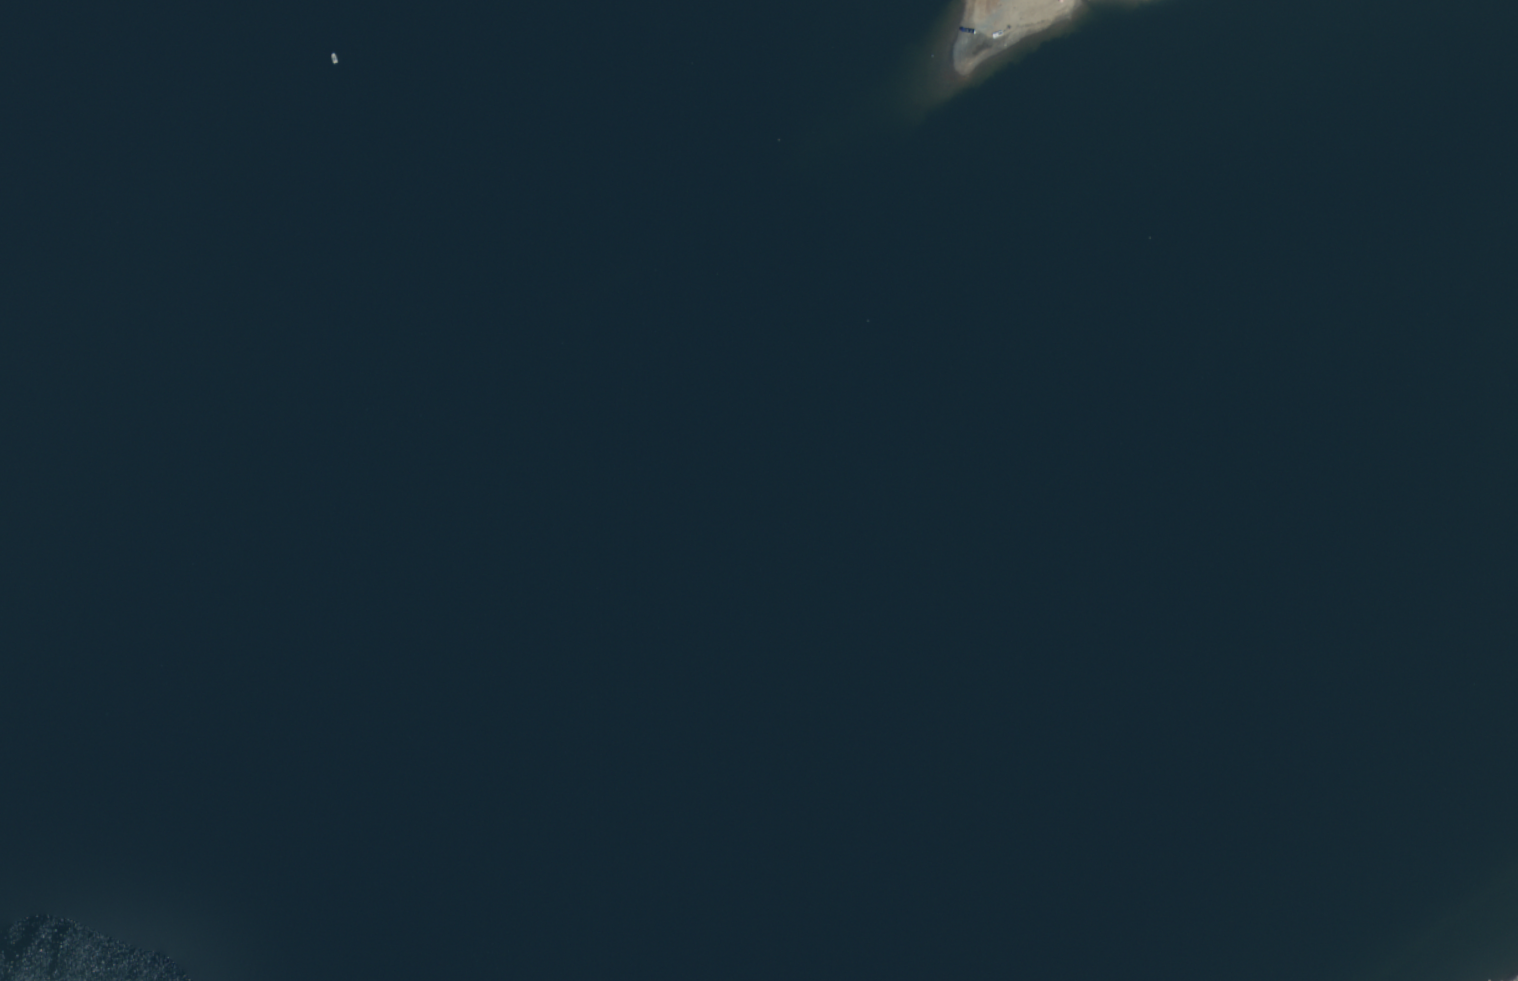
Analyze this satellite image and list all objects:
river: (1019, 570)

